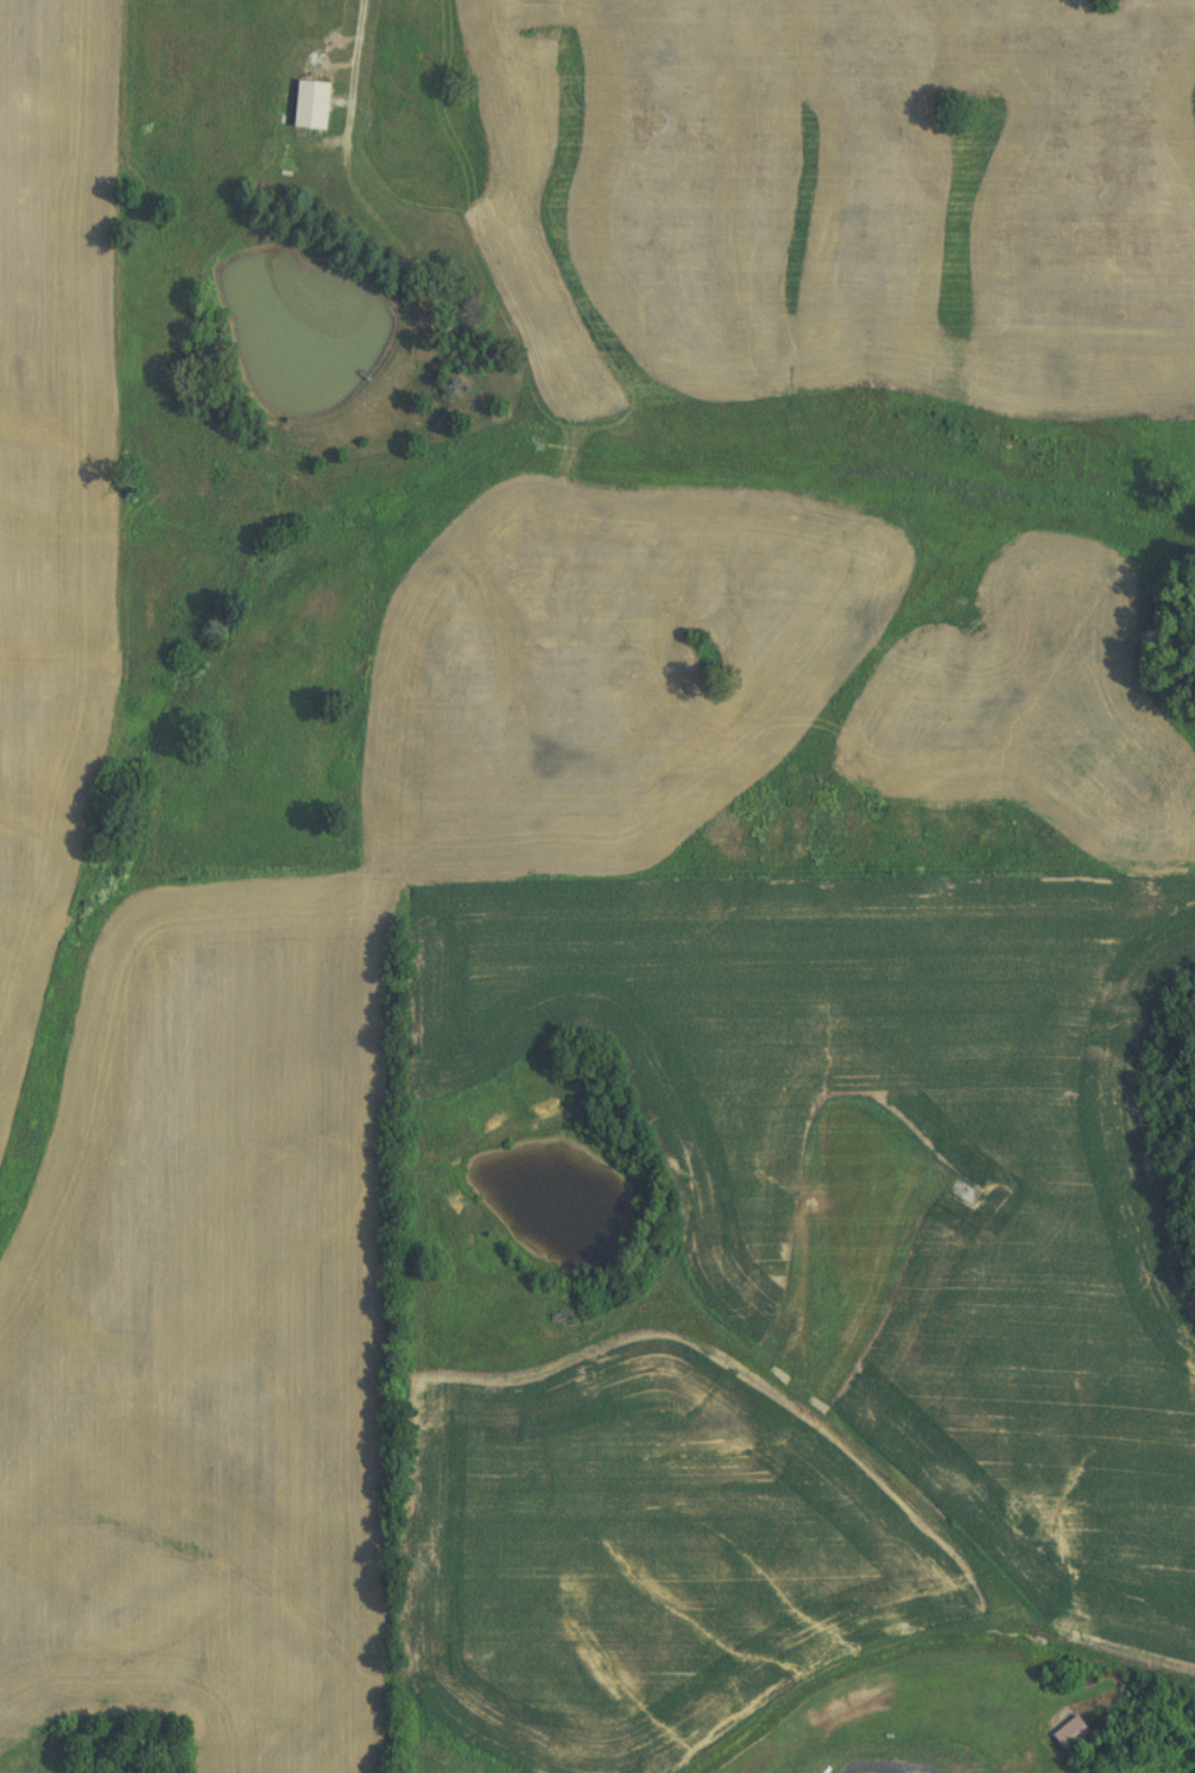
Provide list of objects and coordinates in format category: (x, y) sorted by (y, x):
road: (358, 70)
building: (298, 106)
building: (1062, 1733)
building: (12, 1756)

